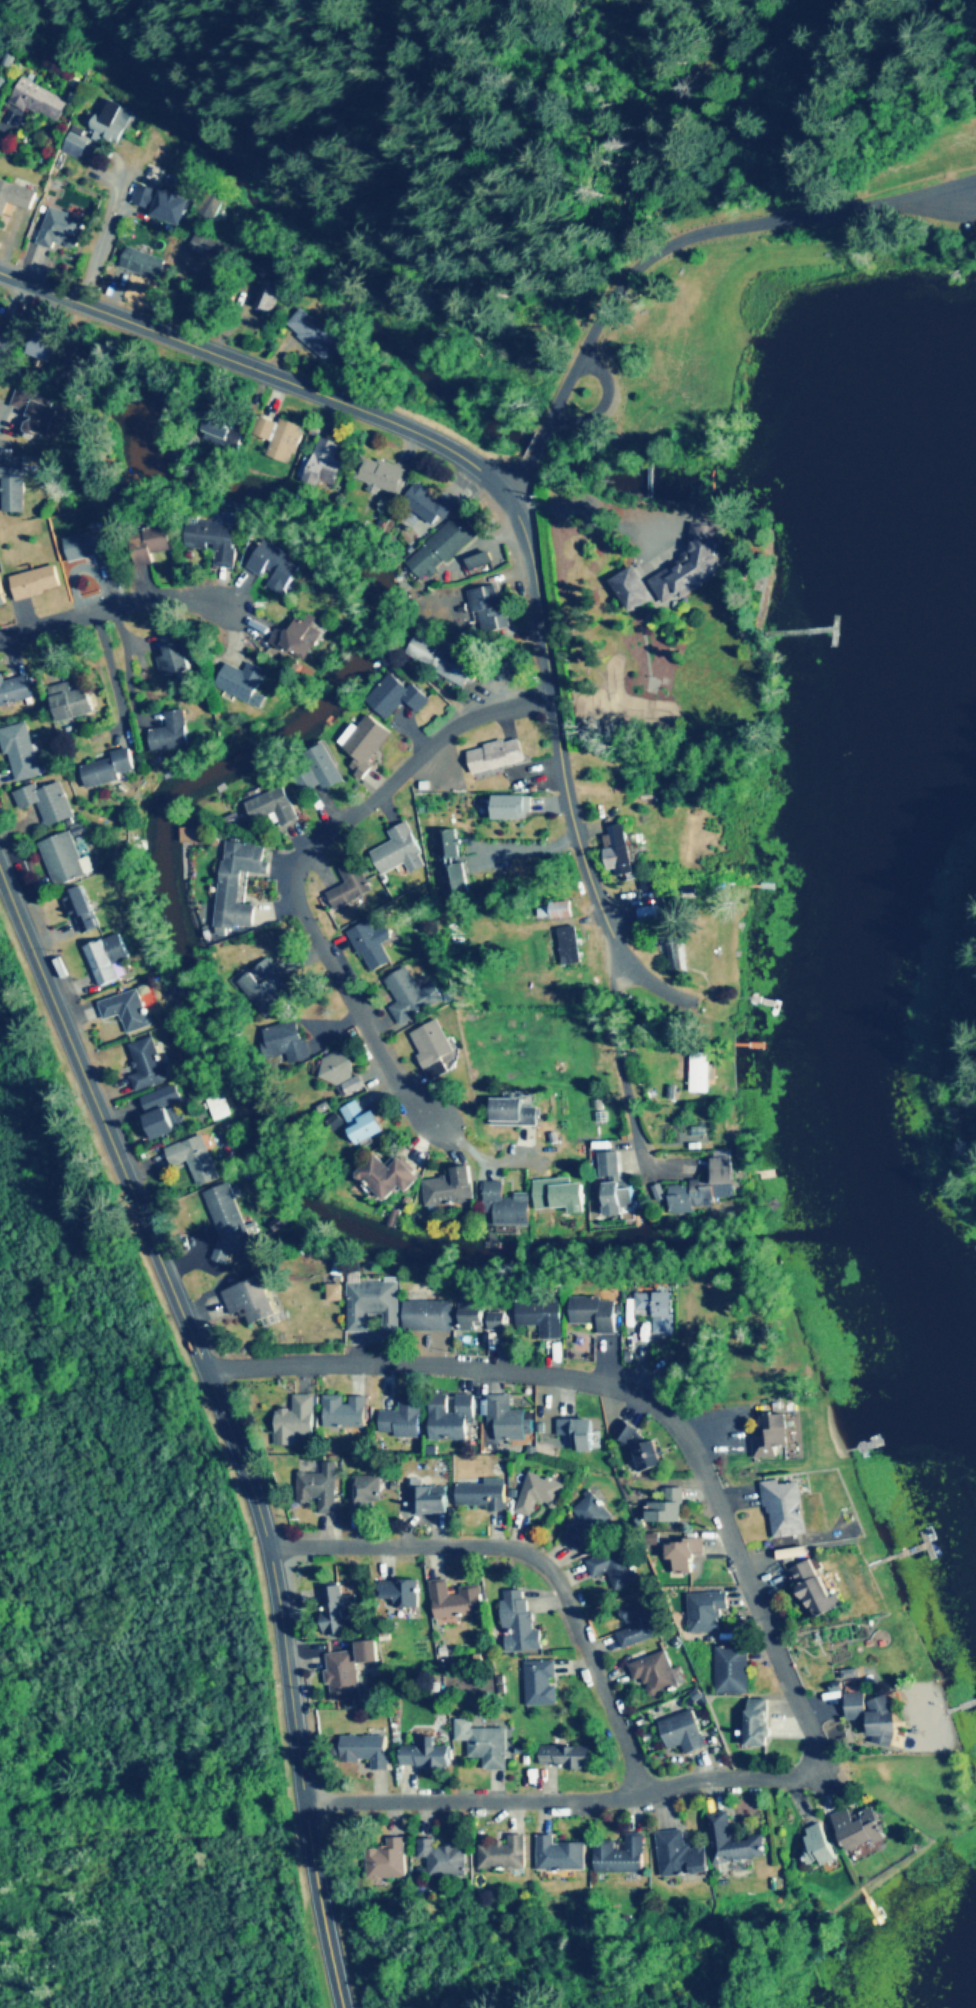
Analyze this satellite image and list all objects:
building: (39, 101)
building: (113, 121)
building: (77, 142)
building: (15, 196)
park: (902, 199)
building: (213, 205)
building: (63, 229)
road: (673, 244)
building: (210, 247)
building: (144, 261)
river: (369, 276)
building: (270, 294)
building: (316, 333)
building: (9, 339)
building: (43, 347)
building: (71, 363)
road: (263, 373)
building: (36, 414)
building: (224, 433)
building: (286, 441)
building: (325, 463)
building: (384, 476)
building: (12, 484)
building: (430, 505)
building: (215, 540)
building: (150, 544)
building: (90, 547)
building: (442, 547)
building: (276, 566)
building: (693, 566)
building: (37, 583)
building: (631, 590)
building: (1, 596)
road: (130, 603)
building: (489, 611)
building: (299, 639)
building: (175, 658)
building: (444, 660)
building: (244, 683)
building: (15, 691)
building: (397, 697)
building: (72, 703)
building: (172, 733)
road: (560, 734)
building: (367, 741)
building: (22, 753)
building: (497, 756)
building: (325, 766)
building: (109, 769)
building: (48, 802)
river: (180, 805)
building: (517, 807)
building: (266, 811)
building: (450, 844)
building: (404, 850)
building: (619, 851)
building: (66, 859)
road: (307, 861)
building: (457, 880)
building: (239, 883)
building: (351, 887)
building: (81, 910)
building: (650, 914)
building: (373, 944)
building: (570, 946)
building: (673, 949)
building: (109, 960)
building: (268, 987)
building: (412, 995)
building: (128, 1010)
building: (287, 1040)
building: (433, 1043)
building: (148, 1065)
building: (701, 1072)
building: (343, 1073)
building: (220, 1108)
building: (161, 1111)
building: (513, 1112)
building: (362, 1122)
building: (196, 1159)
building: (387, 1176)
building: (615, 1186)
building: (451, 1188)
building: (708, 1188)
building: (562, 1198)
building: (507, 1206)
building: (228, 1220)
building: (251, 1300)
building: (374, 1304)
building: (658, 1310)
building: (595, 1313)
building: (429, 1316)
building: (542, 1318)
building: (473, 1319)
building: (497, 1325)
road: (448, 1367)
building: (346, 1411)
building: (451, 1418)
building: (296, 1420)
building: (403, 1420)
building: (508, 1420)
road: (227, 1421)
building: (576, 1435)
building: (773, 1438)
building: (647, 1456)
building: (320, 1488)
building: (540, 1493)
building: (484, 1495)
building: (428, 1500)
building: (667, 1508)
building: (785, 1509)
building: (590, 1521)
building: (683, 1556)
road: (534, 1557)
building: (617, 1567)
building: (814, 1590)
building: (400, 1592)
building: (456, 1601)
building: (338, 1609)
building: (707, 1611)
building: (520, 1623)
building: (640, 1624)
building: (733, 1670)
building: (344, 1674)
building: (655, 1674)
building: (542, 1683)
building: (873, 1716)
building: (757, 1728)
building: (684, 1732)
building: (485, 1743)
building: (366, 1749)
building: (566, 1756)
building: (426, 1757)
road: (746, 1779)
building: (857, 1831)
building: (732, 1841)
building: (818, 1846)
building: (504, 1853)
building: (561, 1854)
building: (681, 1854)
building: (621, 1855)
building: (443, 1857)
building: (388, 1859)

